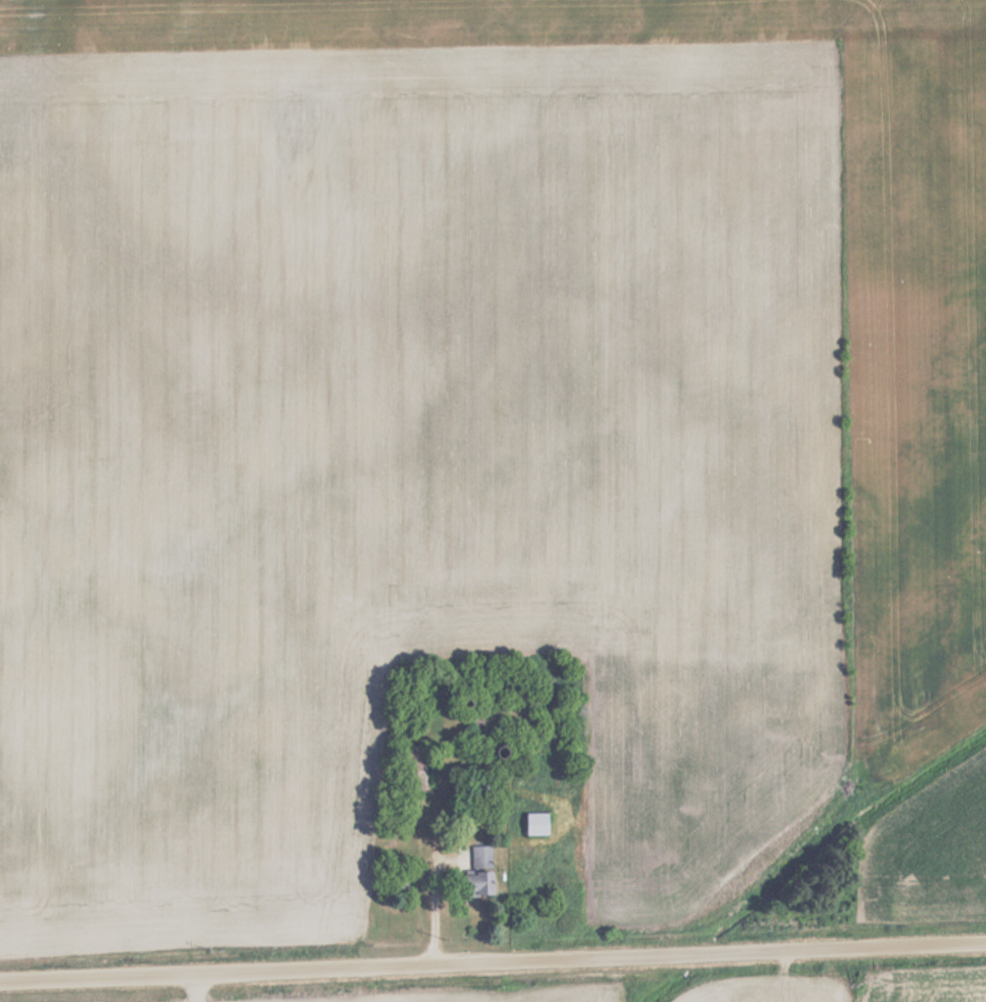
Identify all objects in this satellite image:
building: (540, 824)
building: (481, 857)
building: (481, 883)
road: (493, 961)
road: (191, 987)

